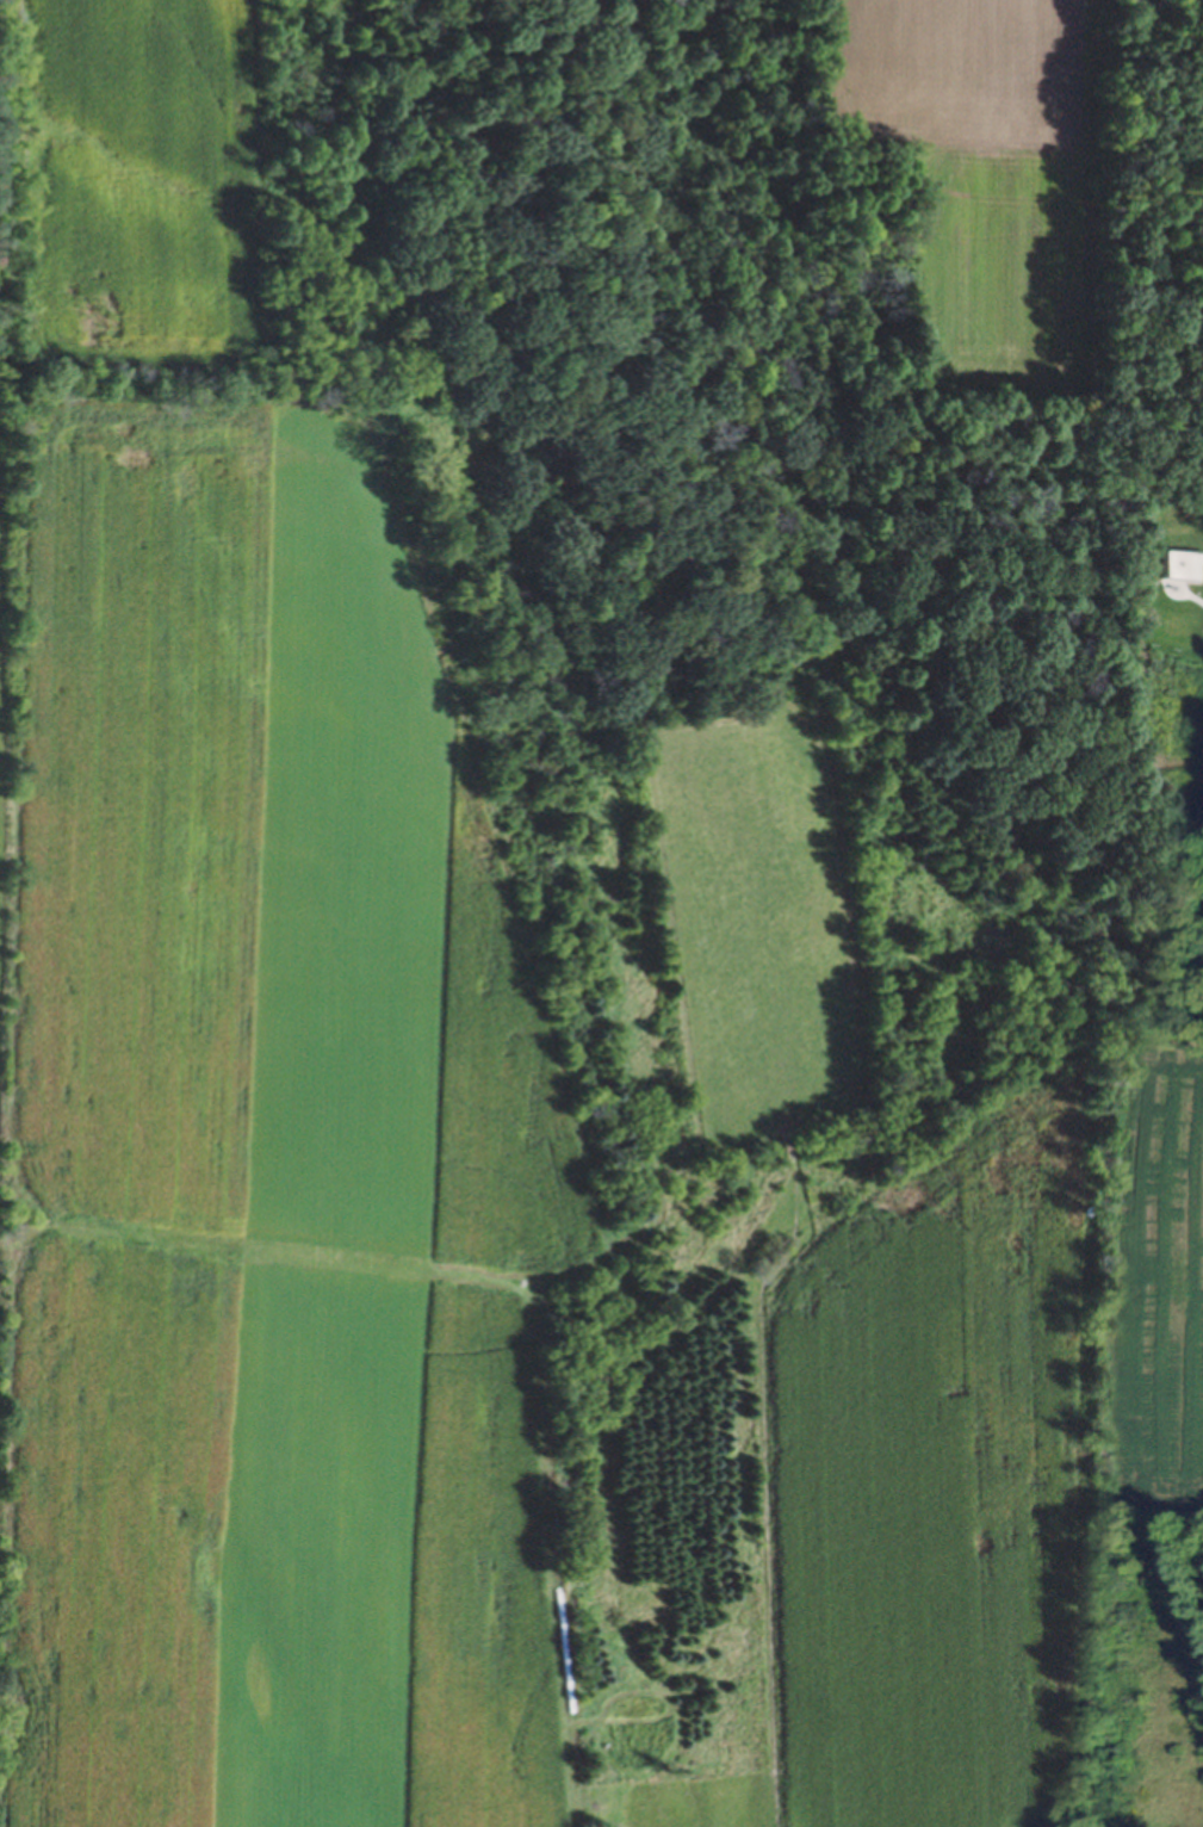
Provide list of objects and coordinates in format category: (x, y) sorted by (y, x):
building: (1182, 570)

